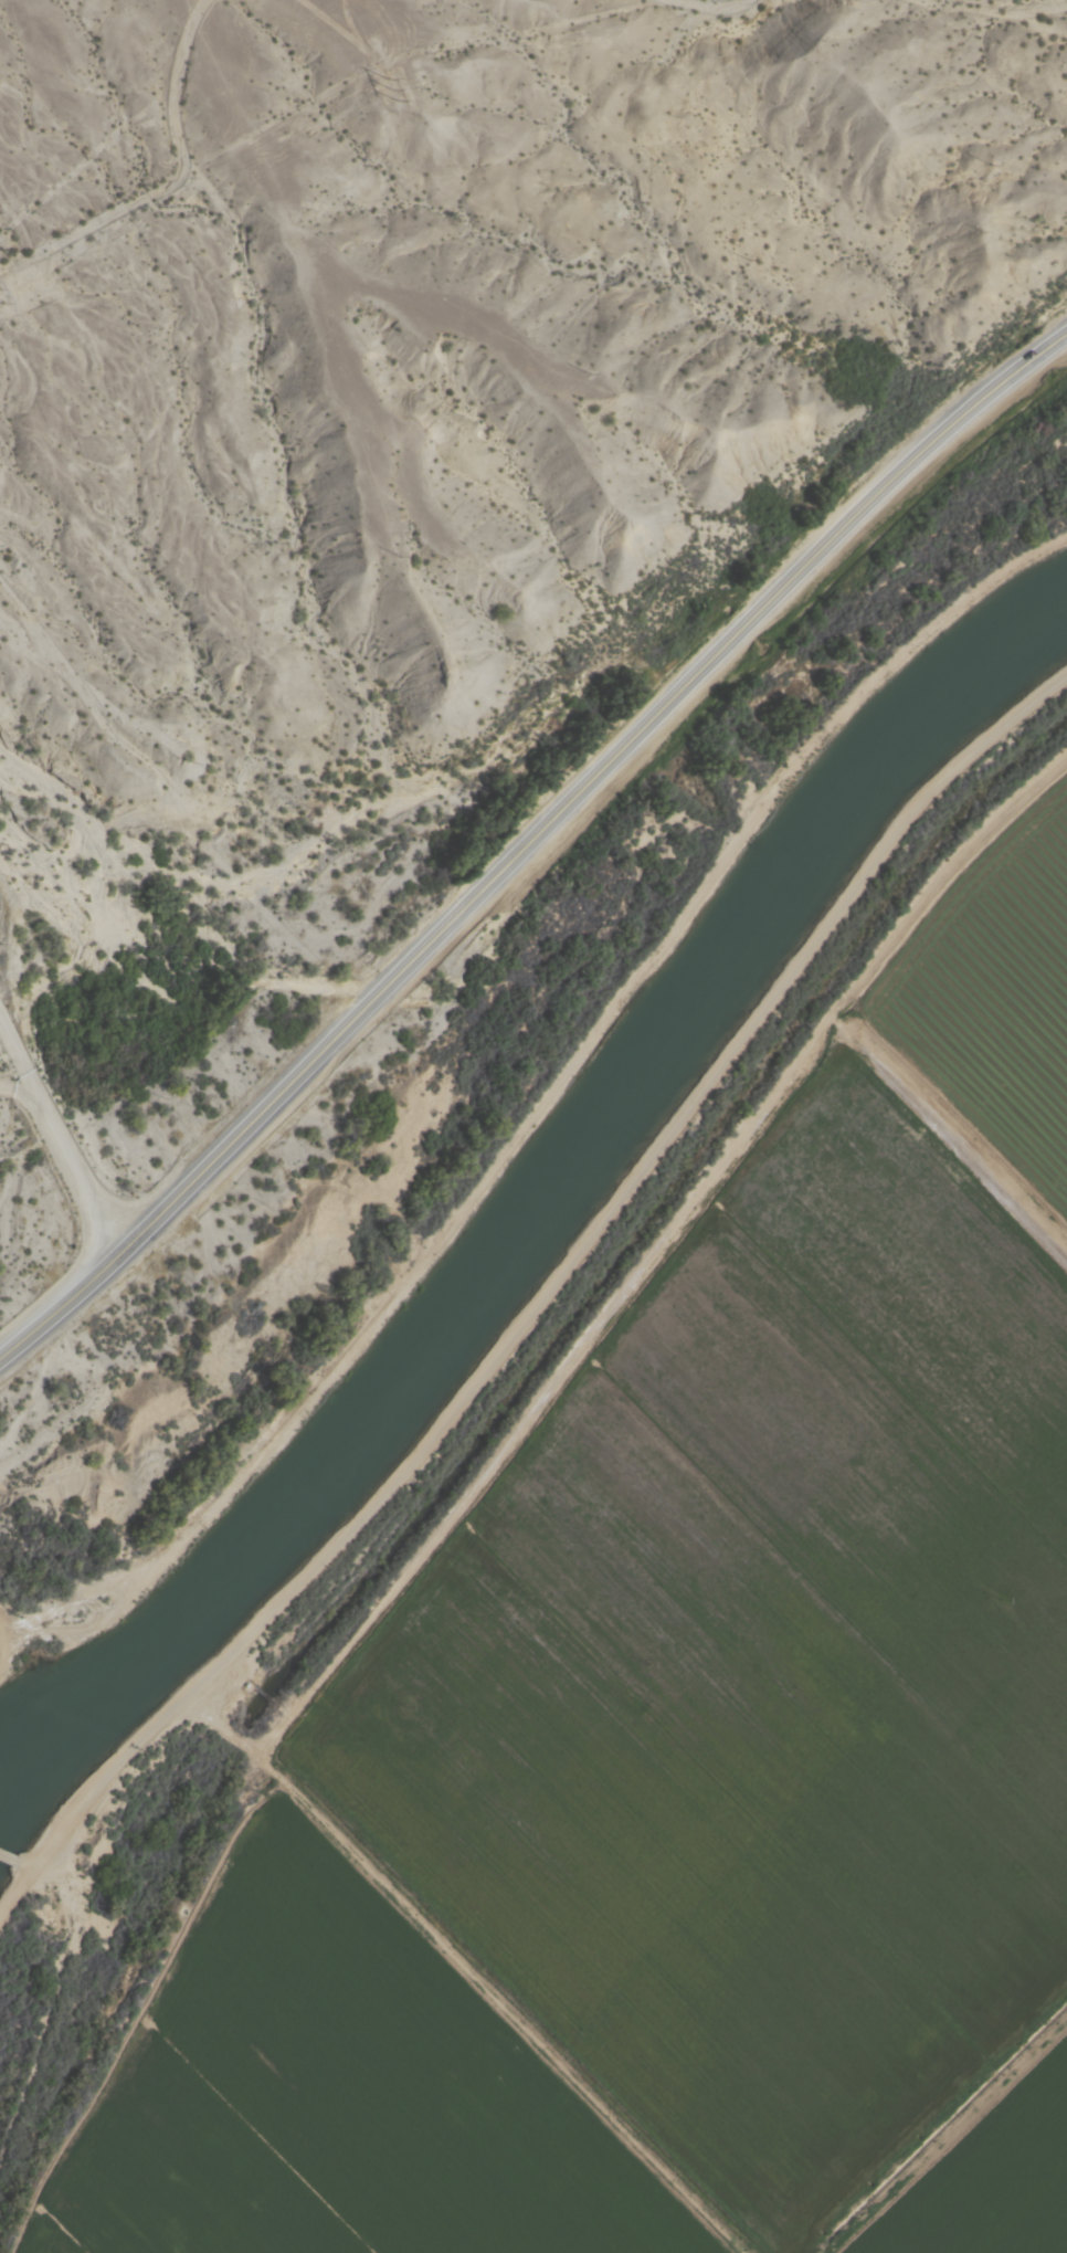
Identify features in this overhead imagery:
power tower: (402, 88)
power tower: (1, 292)
road: (529, 849)
road: (72, 1157)
crop: (342, 2095)

